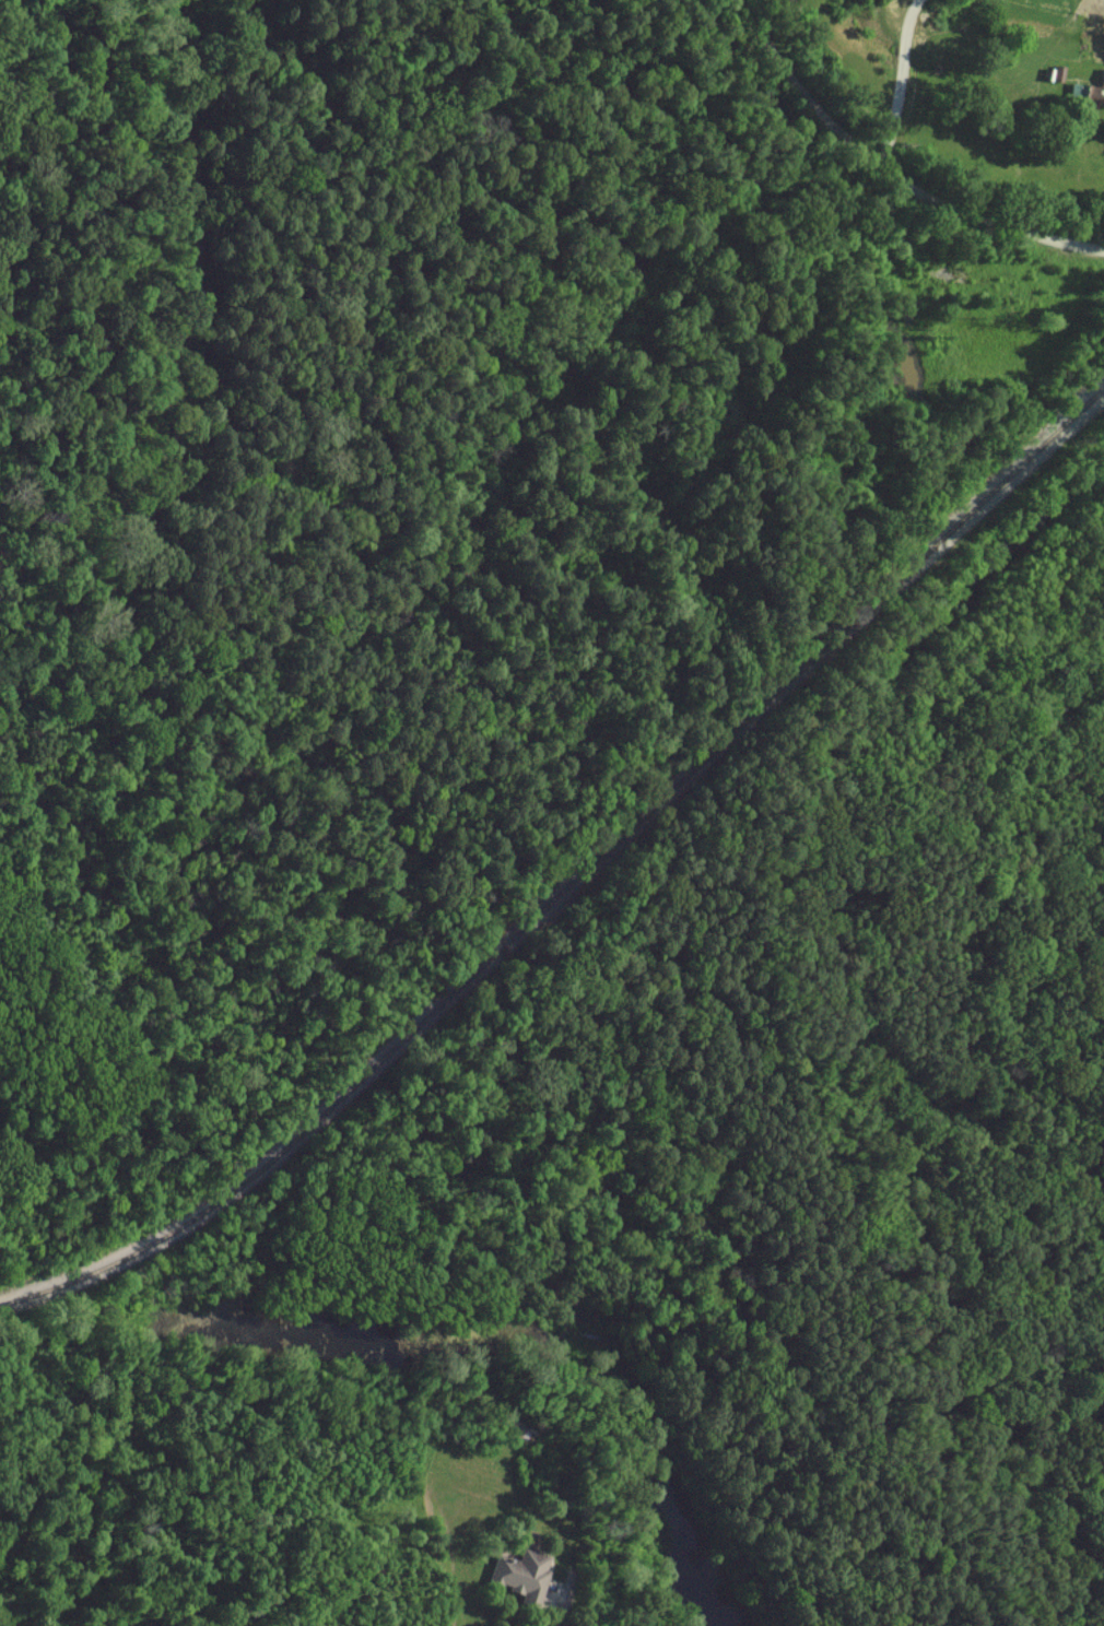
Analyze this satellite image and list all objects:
road: (901, 82)
road: (890, 170)
railway: (574, 882)
building: (525, 1575)
road: (571, 1603)

